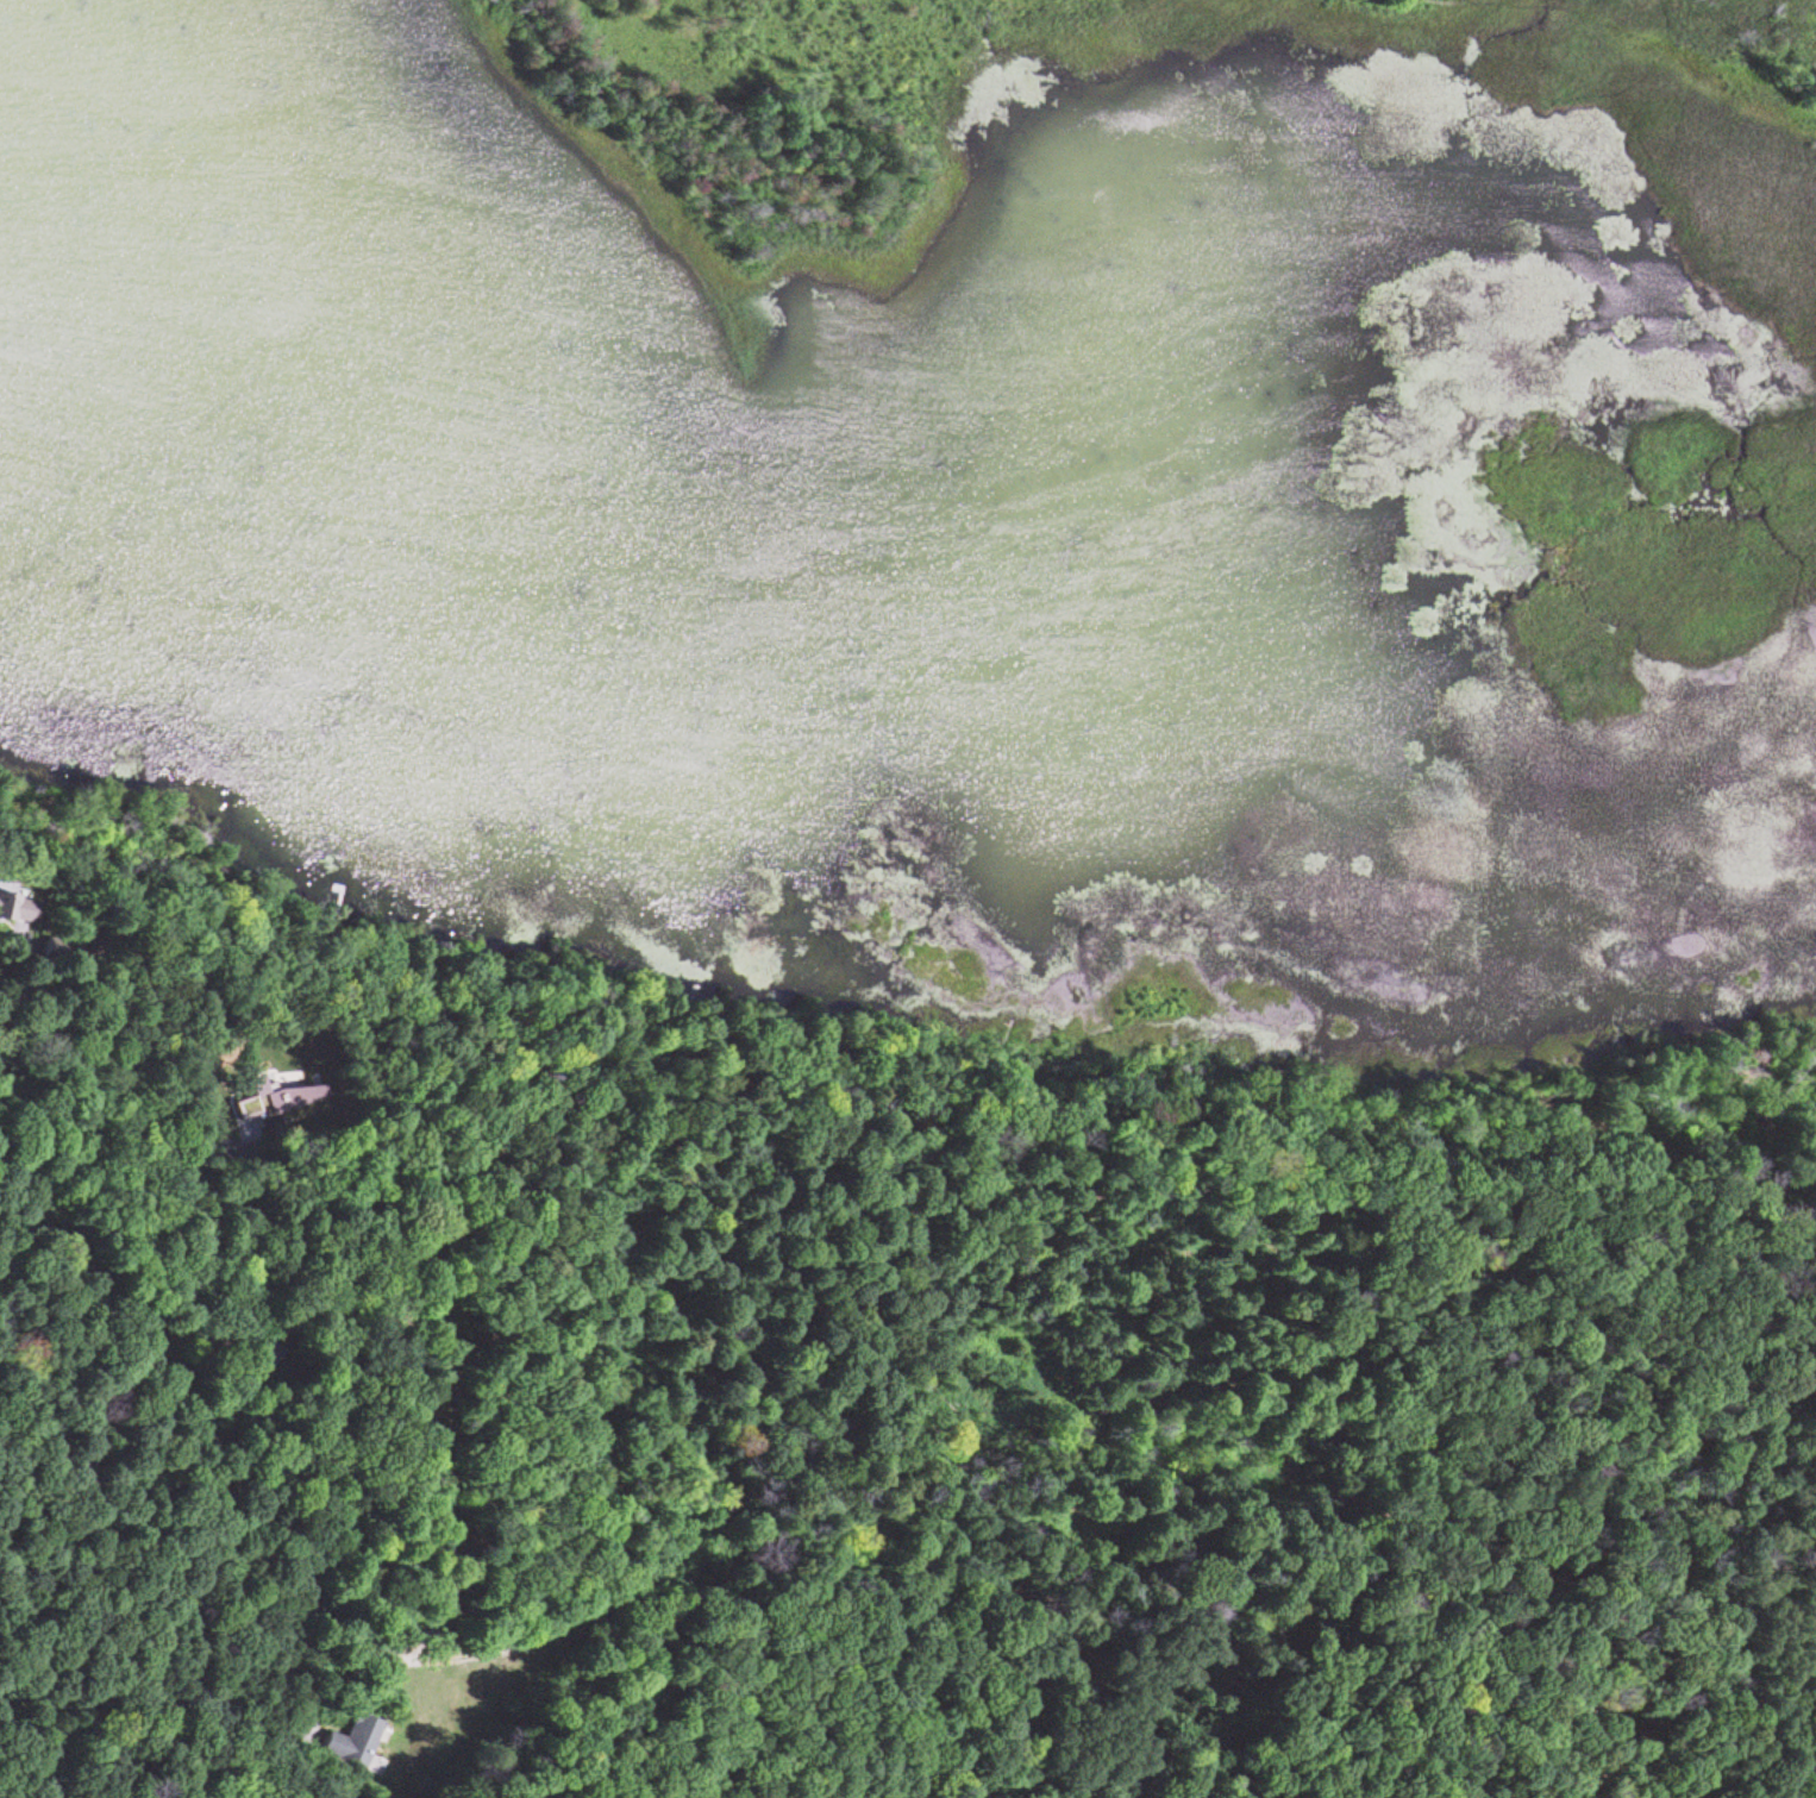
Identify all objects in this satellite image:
building: (17, 903)
road: (31, 1016)
building: (282, 1098)
road: (243, 1292)
road: (192, 1418)
road: (746, 1456)
road: (758, 1652)
road: (312, 1654)
building: (352, 1737)

